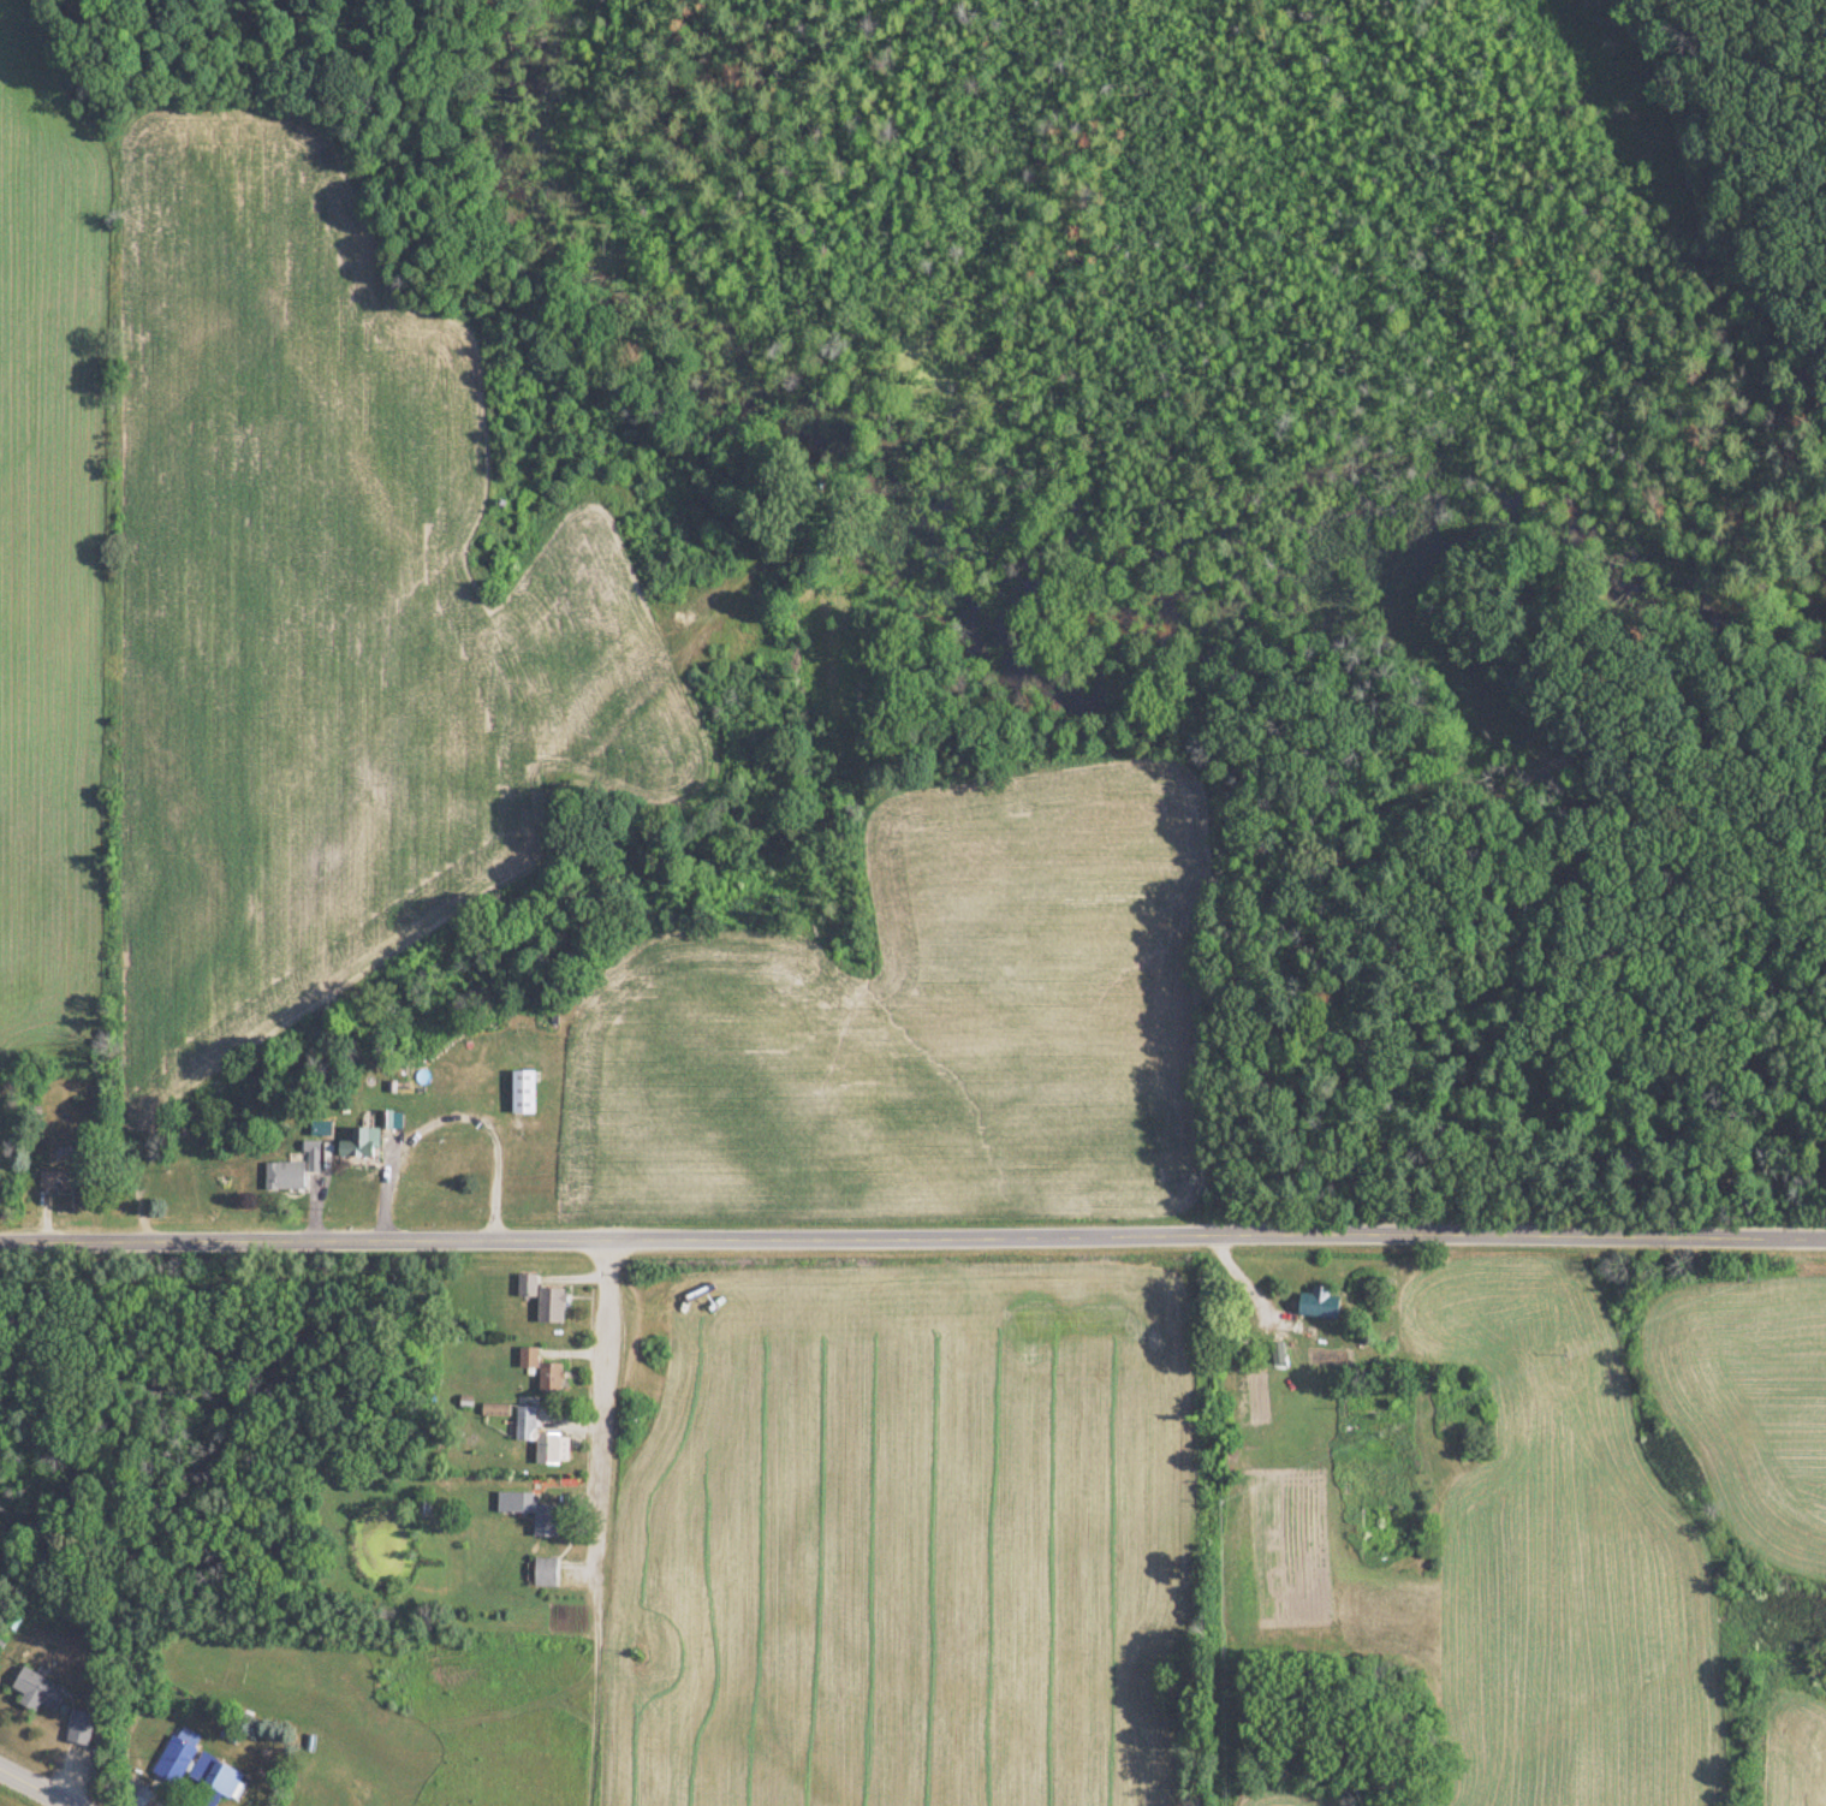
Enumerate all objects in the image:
building: (469, 1080)
building: (521, 1093)
building: (357, 1143)
building: (59, 1163)
building: (290, 1171)
road: (912, 1236)
building: (541, 1300)
building: (1315, 1305)
road: (596, 1408)
building: (545, 1450)
building: (508, 1503)
building: (542, 1521)
building: (542, 1573)
building: (35, 1692)
building: (77, 1728)
building: (173, 1754)
building: (212, 1776)
road: (37, 1787)

